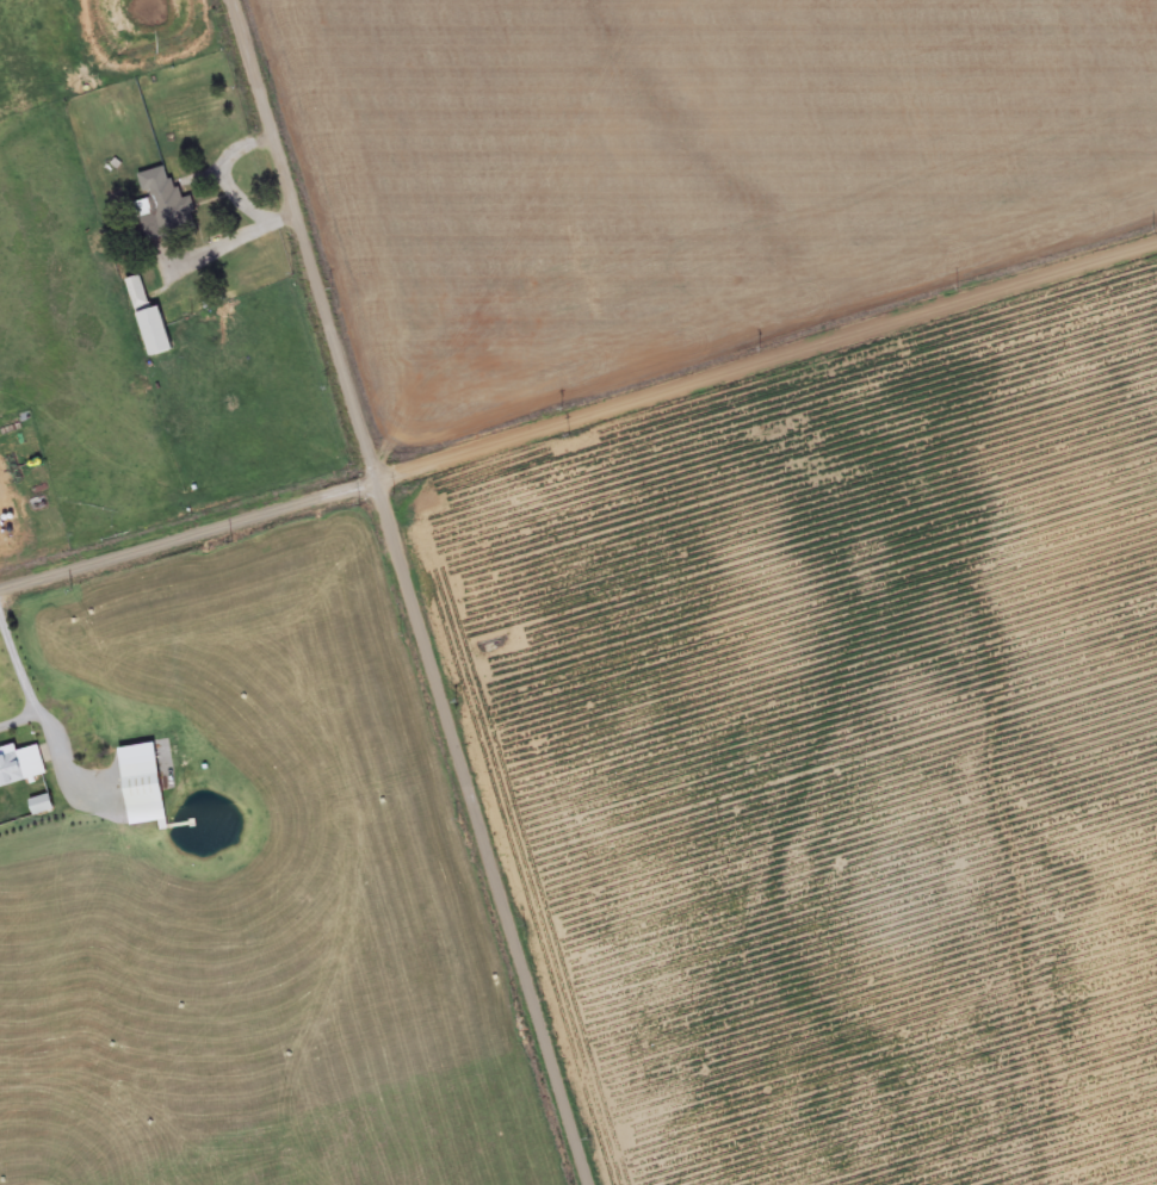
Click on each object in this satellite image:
building: (163, 212)
building: (149, 322)
road: (578, 414)
road: (414, 592)
building: (20, 767)
building: (142, 789)
building: (41, 807)

